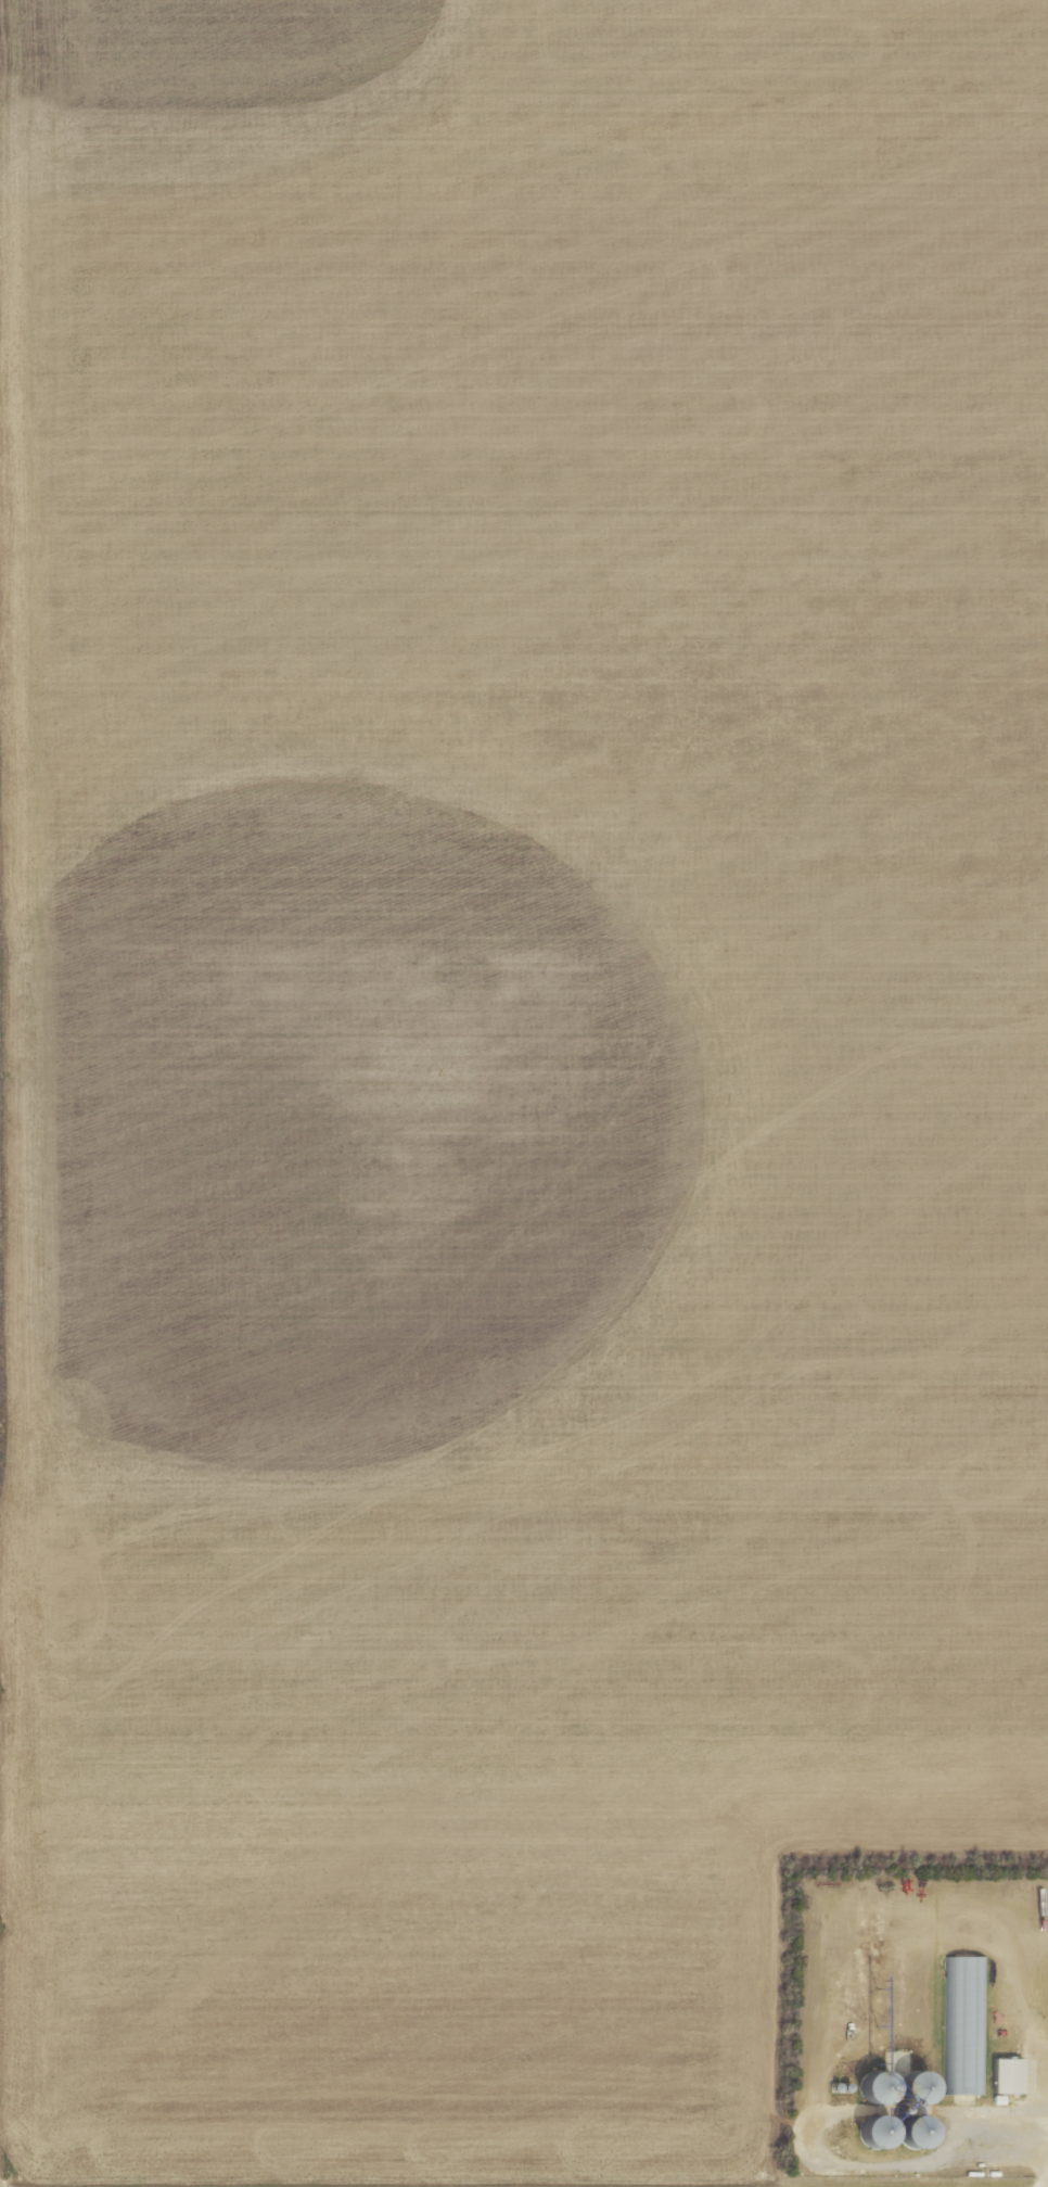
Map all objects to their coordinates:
building: (962, 2026)
building: (1005, 2077)
building: (893, 2083)
building: (912, 2134)
building: (871, 2135)

